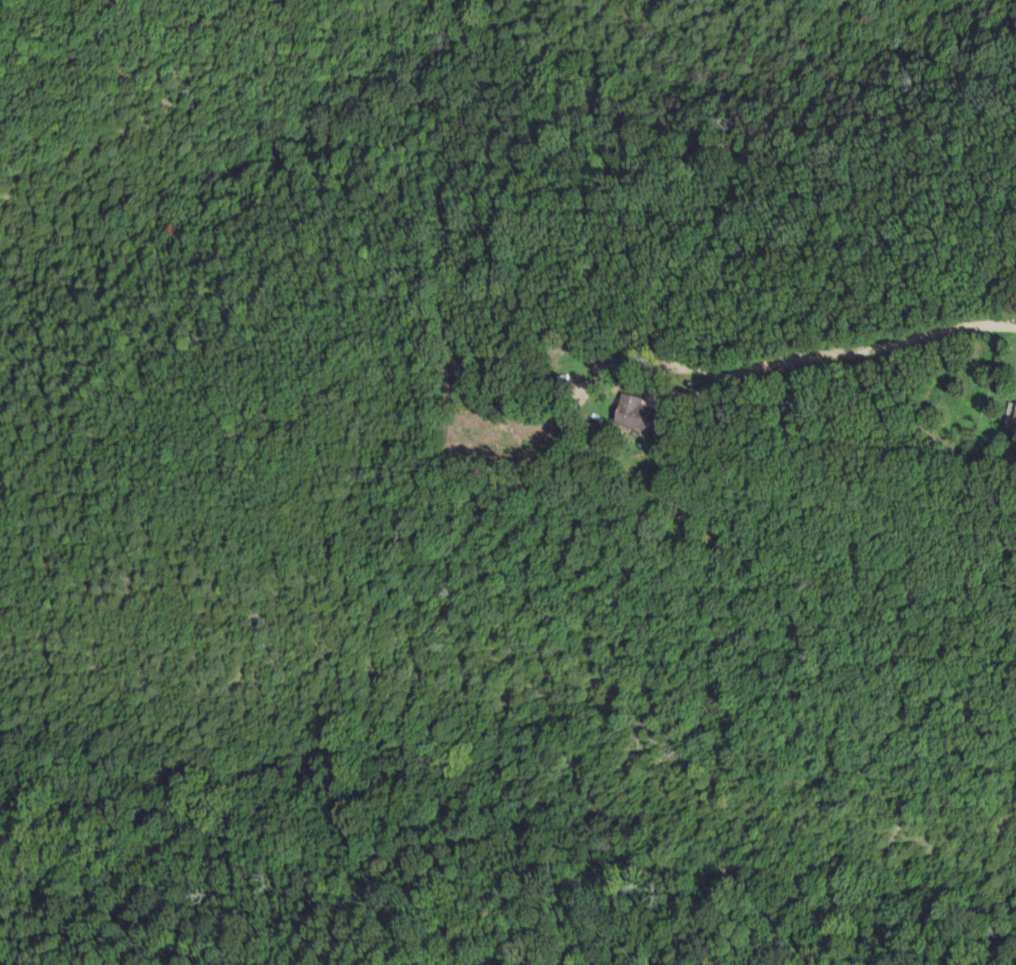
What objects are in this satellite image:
road: (820, 359)
building: (635, 413)
building: (1014, 428)

